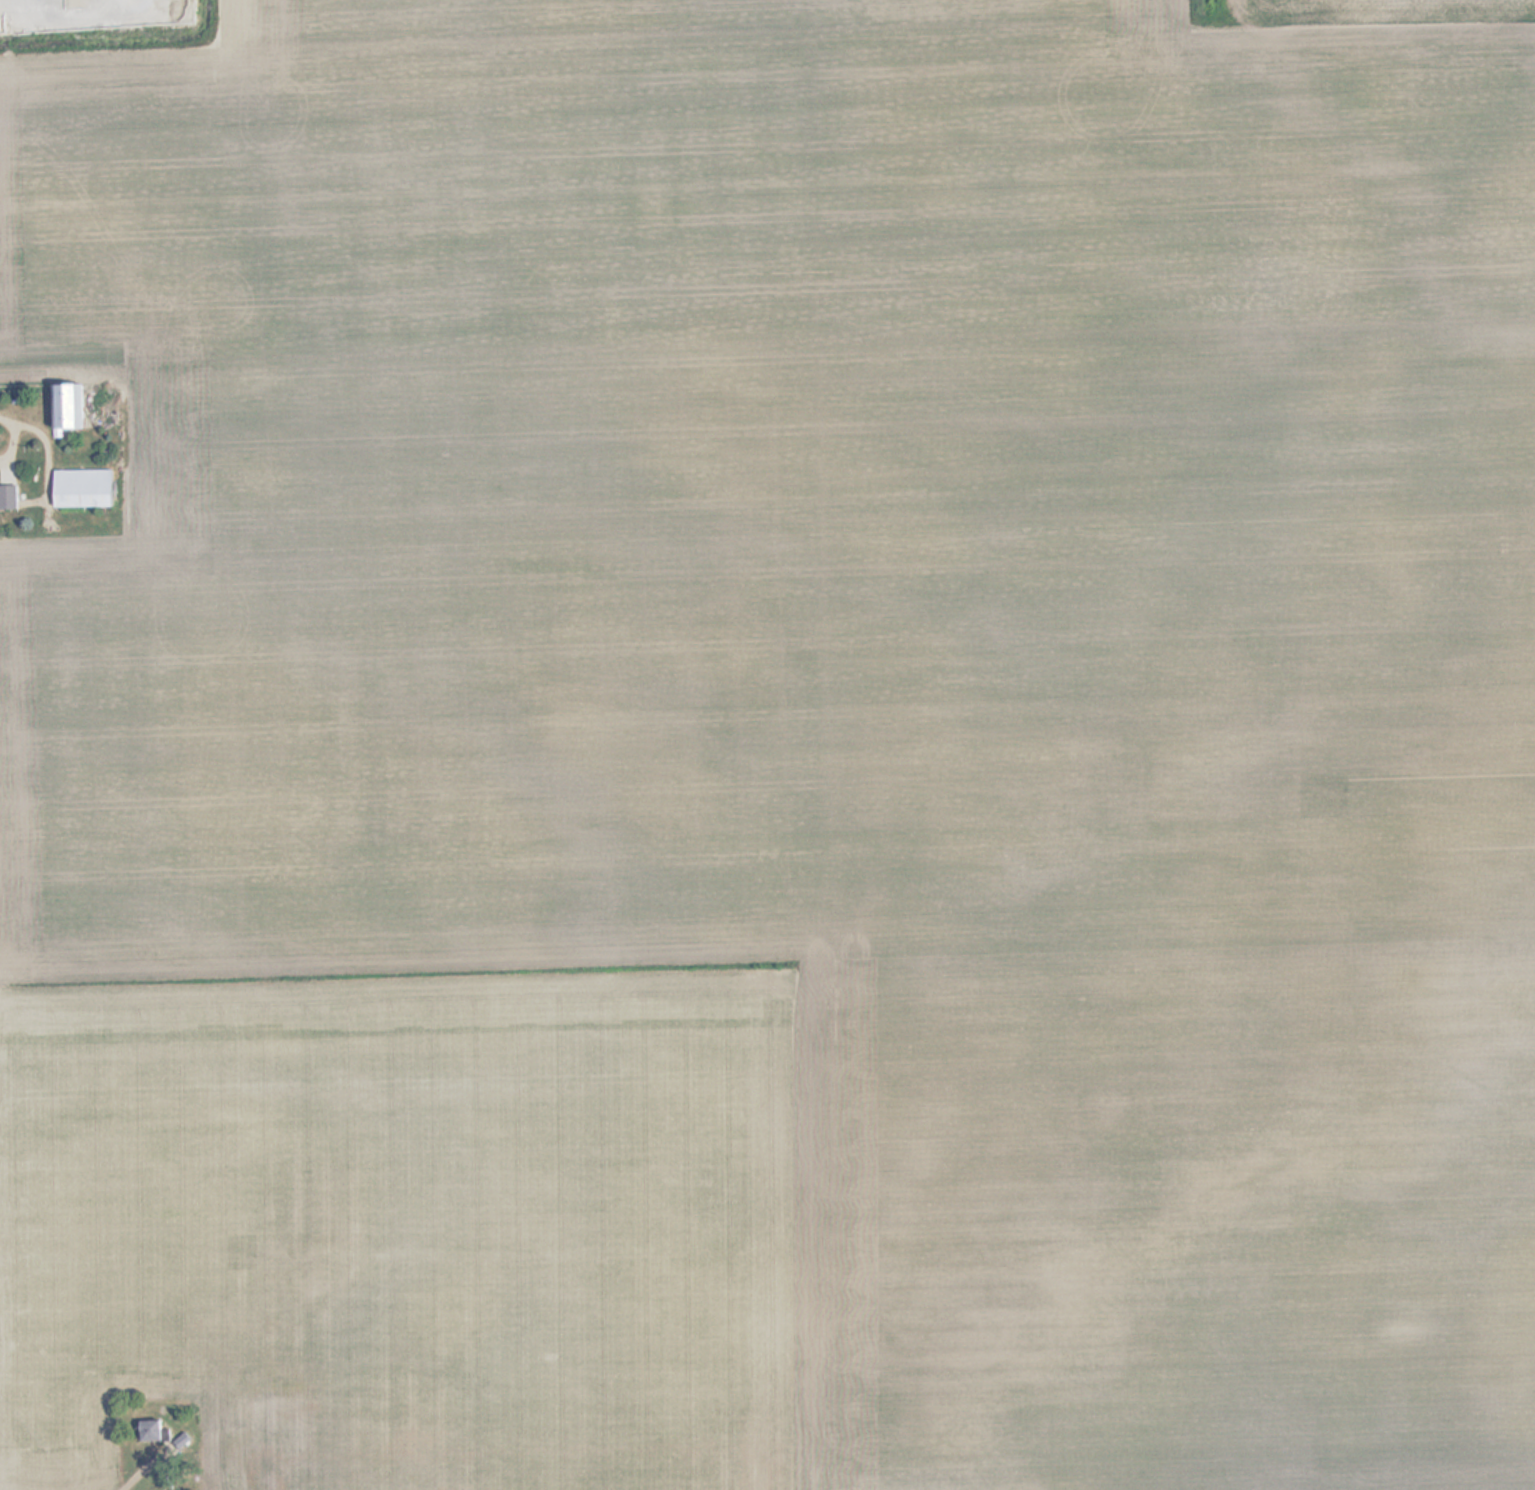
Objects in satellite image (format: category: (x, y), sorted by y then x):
building: (69, 407)
building: (83, 488)
building: (8, 497)
building: (151, 1430)

